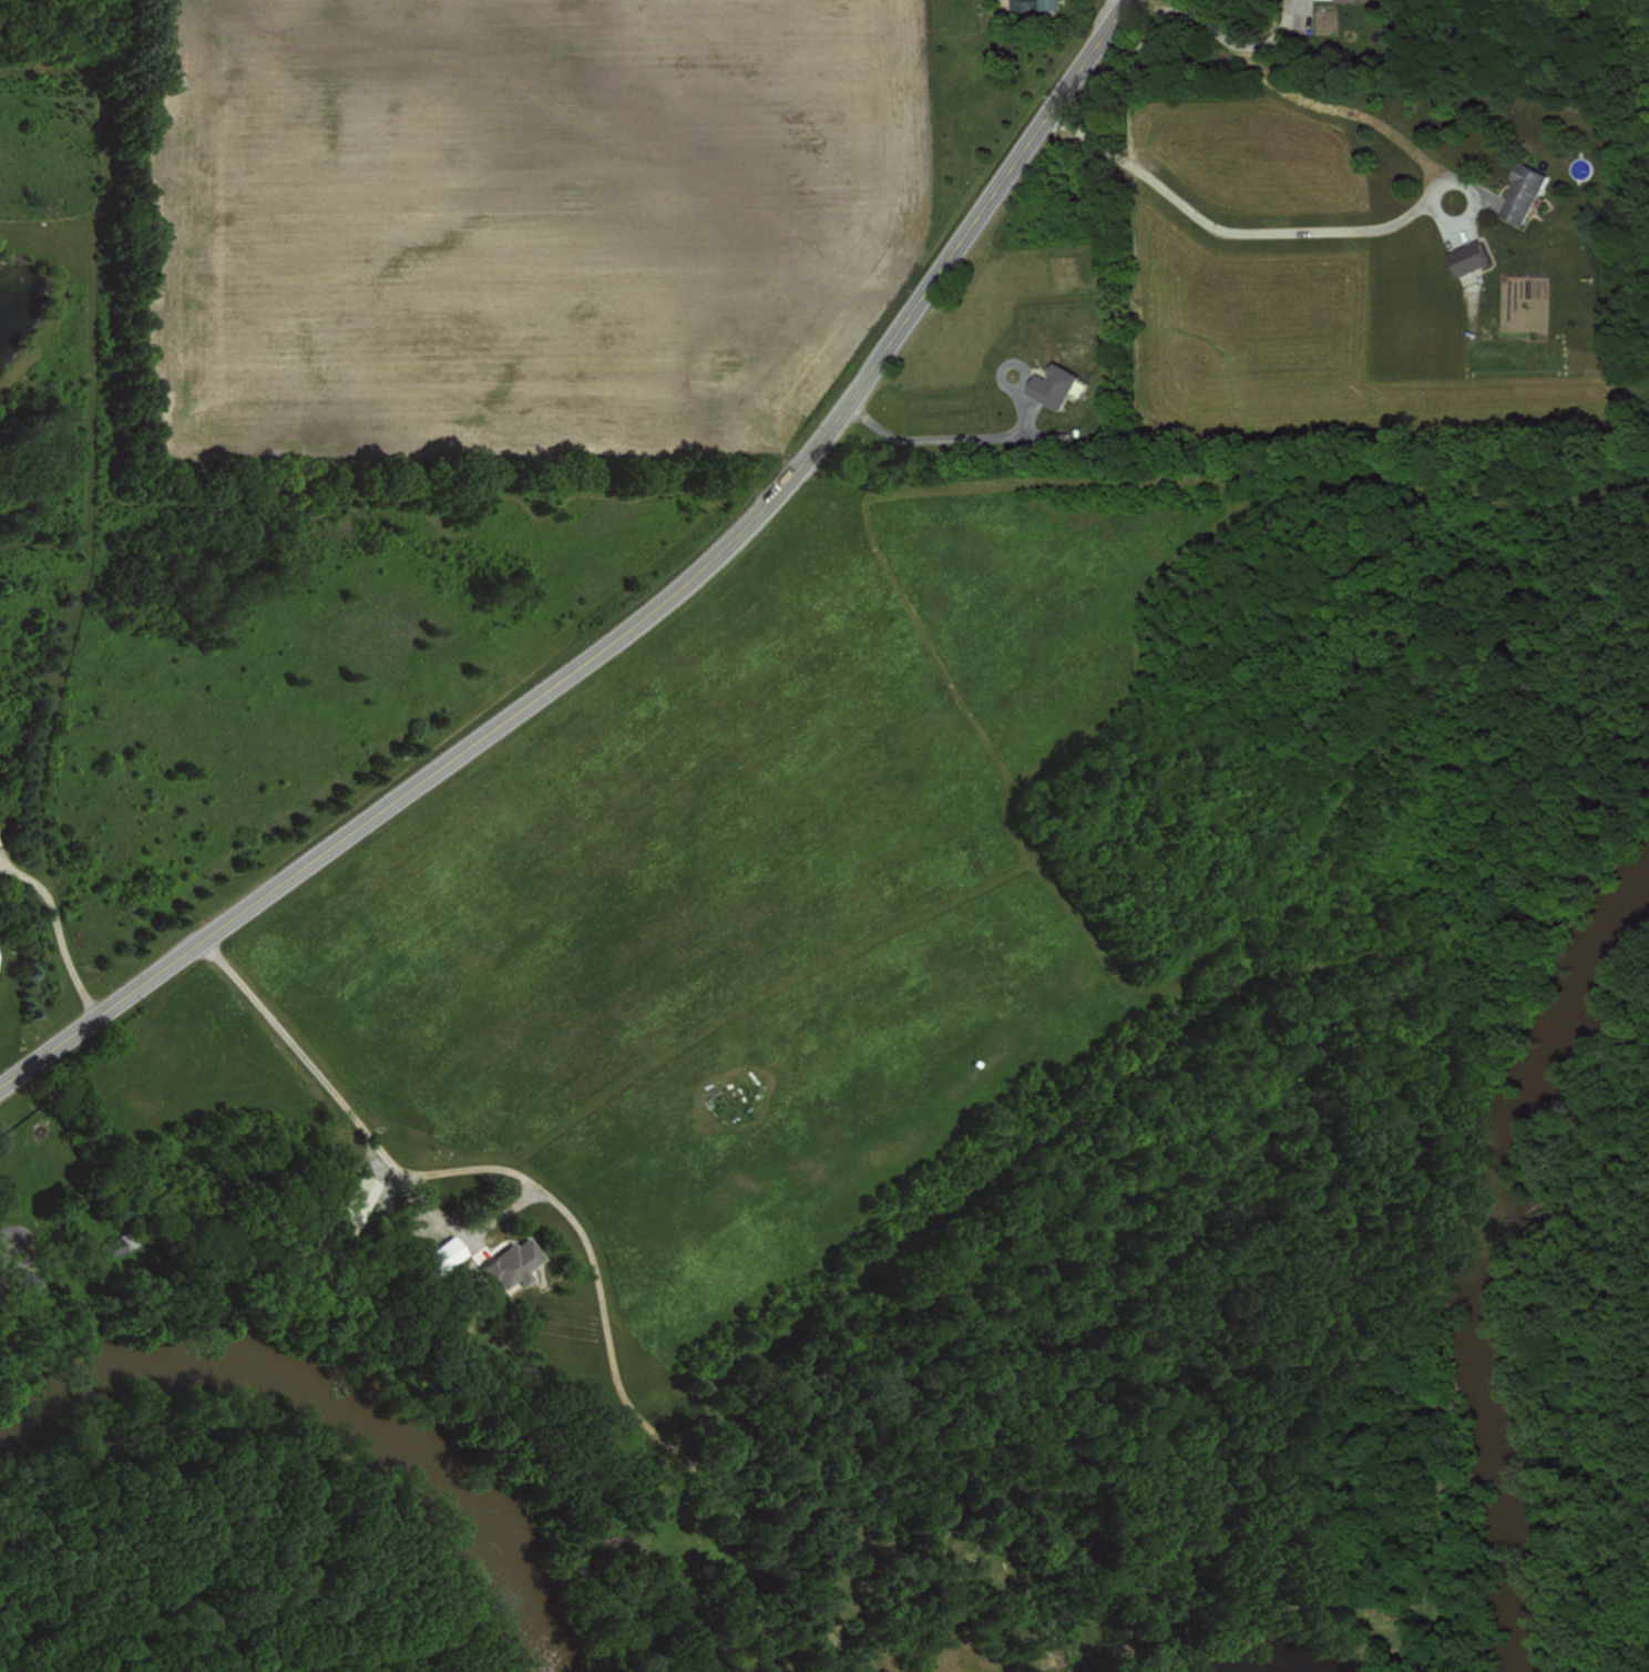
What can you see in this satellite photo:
building: (1365, 0)
building: (1038, 8)
road: (1115, 8)
road: (1229, 38)
building: (1520, 193)
road: (1291, 230)
building: (1466, 257)
building: (1051, 384)
road: (955, 434)
road: (641, 620)
road: (55, 932)
road: (468, 1166)
building: (344, 1204)
building: (434, 1259)
river: (1463, 1259)
building: (505, 1263)
river: (324, 1396)

